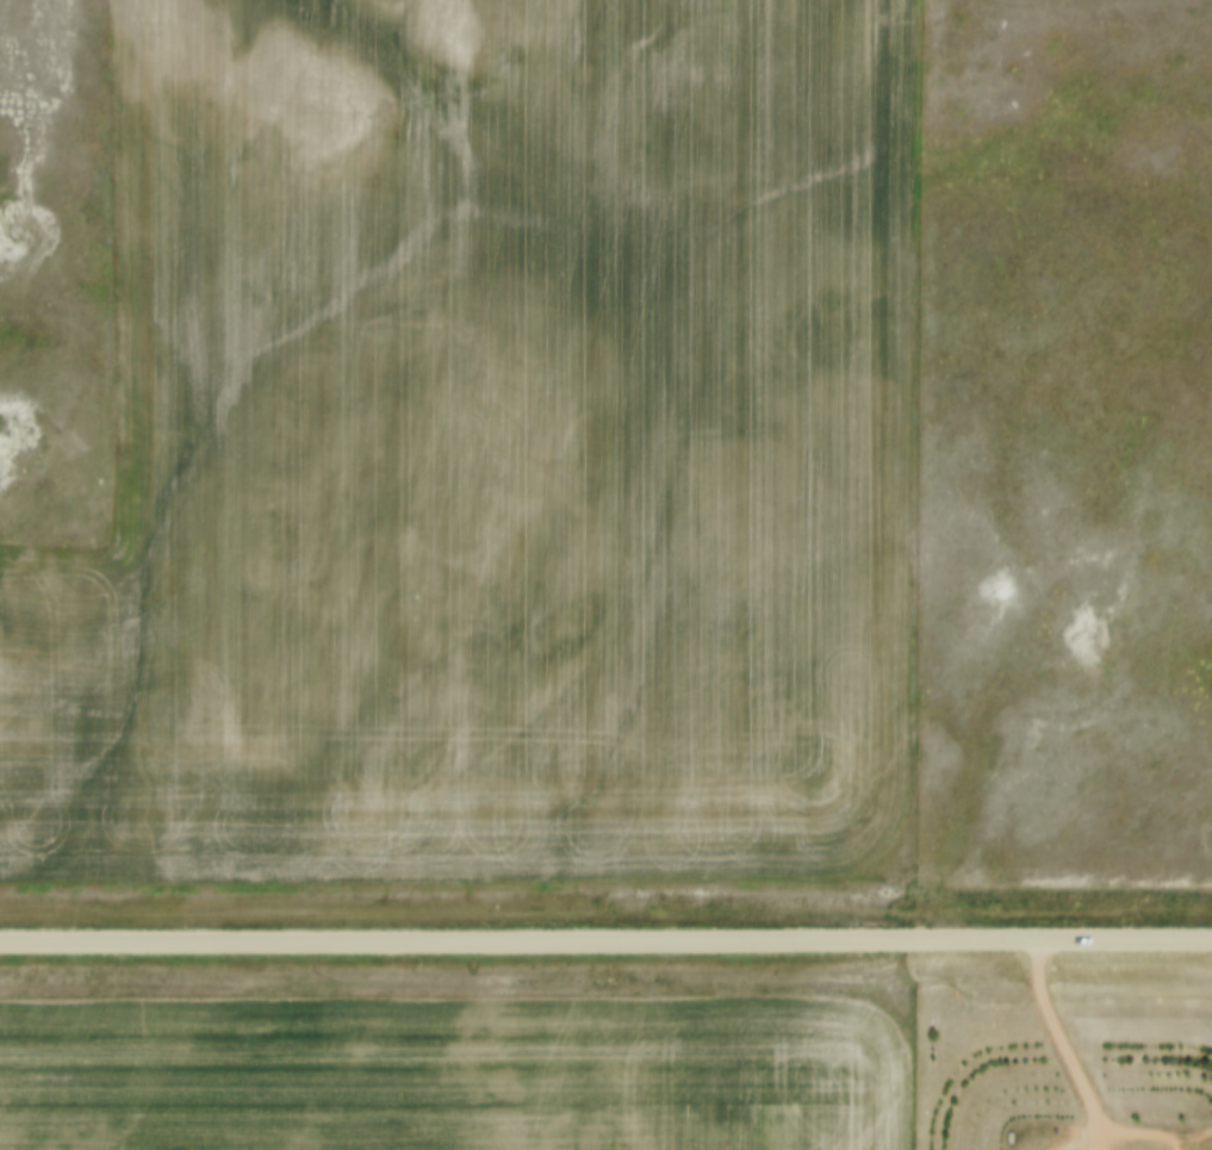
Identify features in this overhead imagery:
road: (605, 941)
road: (1084, 1086)
road: (1098, 1132)
road: (1068, 1133)
road: (1179, 1145)

